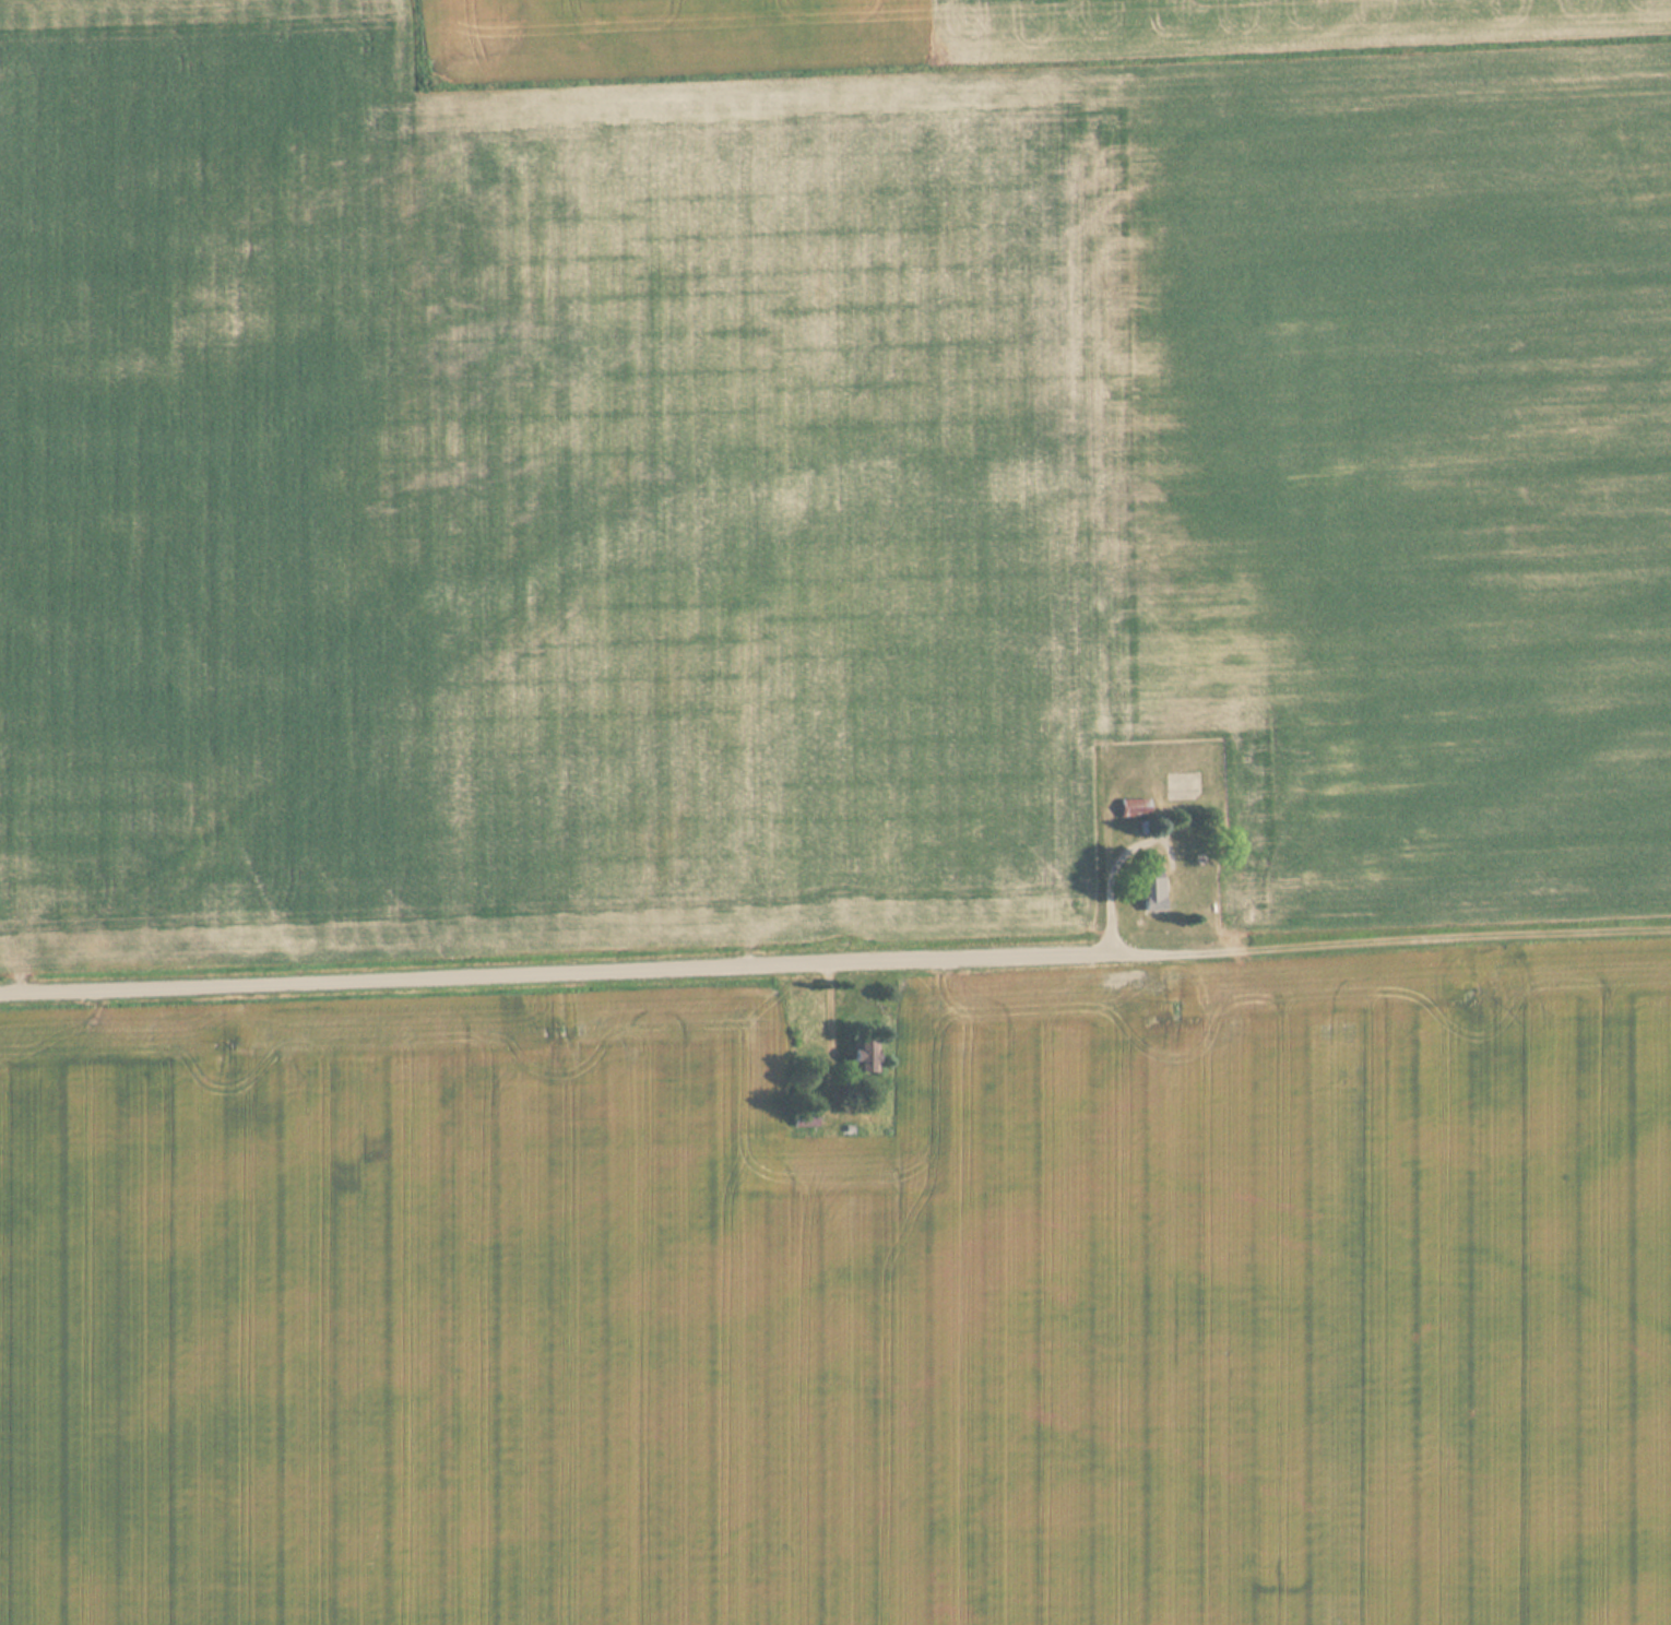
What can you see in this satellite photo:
building: (1134, 808)
building: (1152, 889)
road: (835, 951)
building: (863, 1054)

